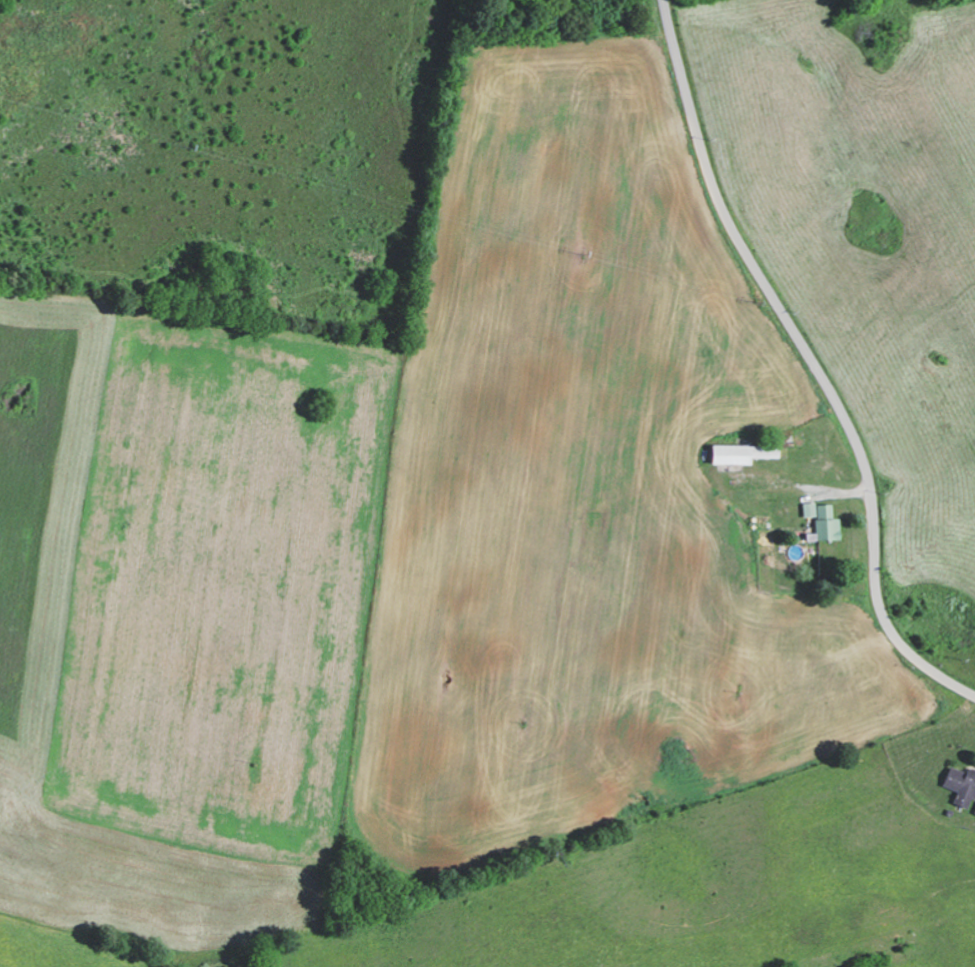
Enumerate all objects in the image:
road: (811, 362)
building: (739, 453)
building: (820, 520)
building: (959, 784)
building: (974, 811)

